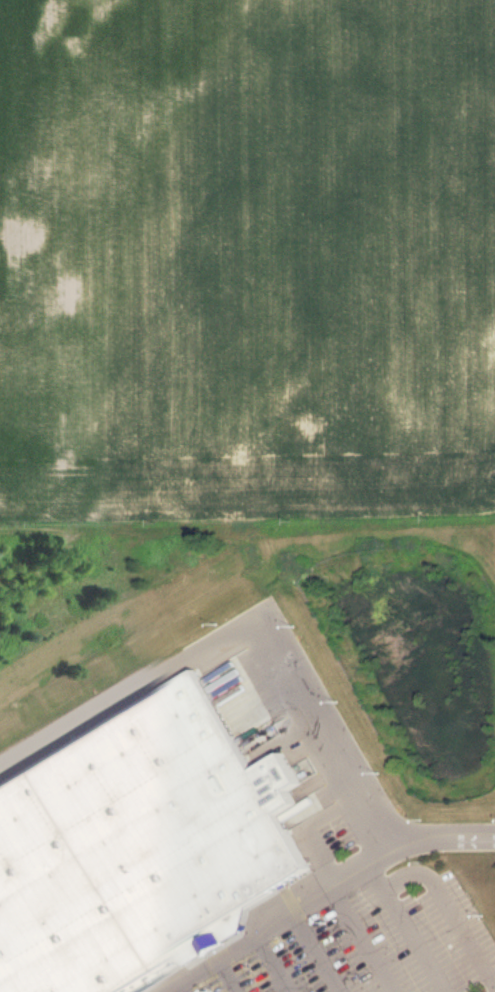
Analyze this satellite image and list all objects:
road: (236, 638)
building: (139, 846)
road: (325, 894)

